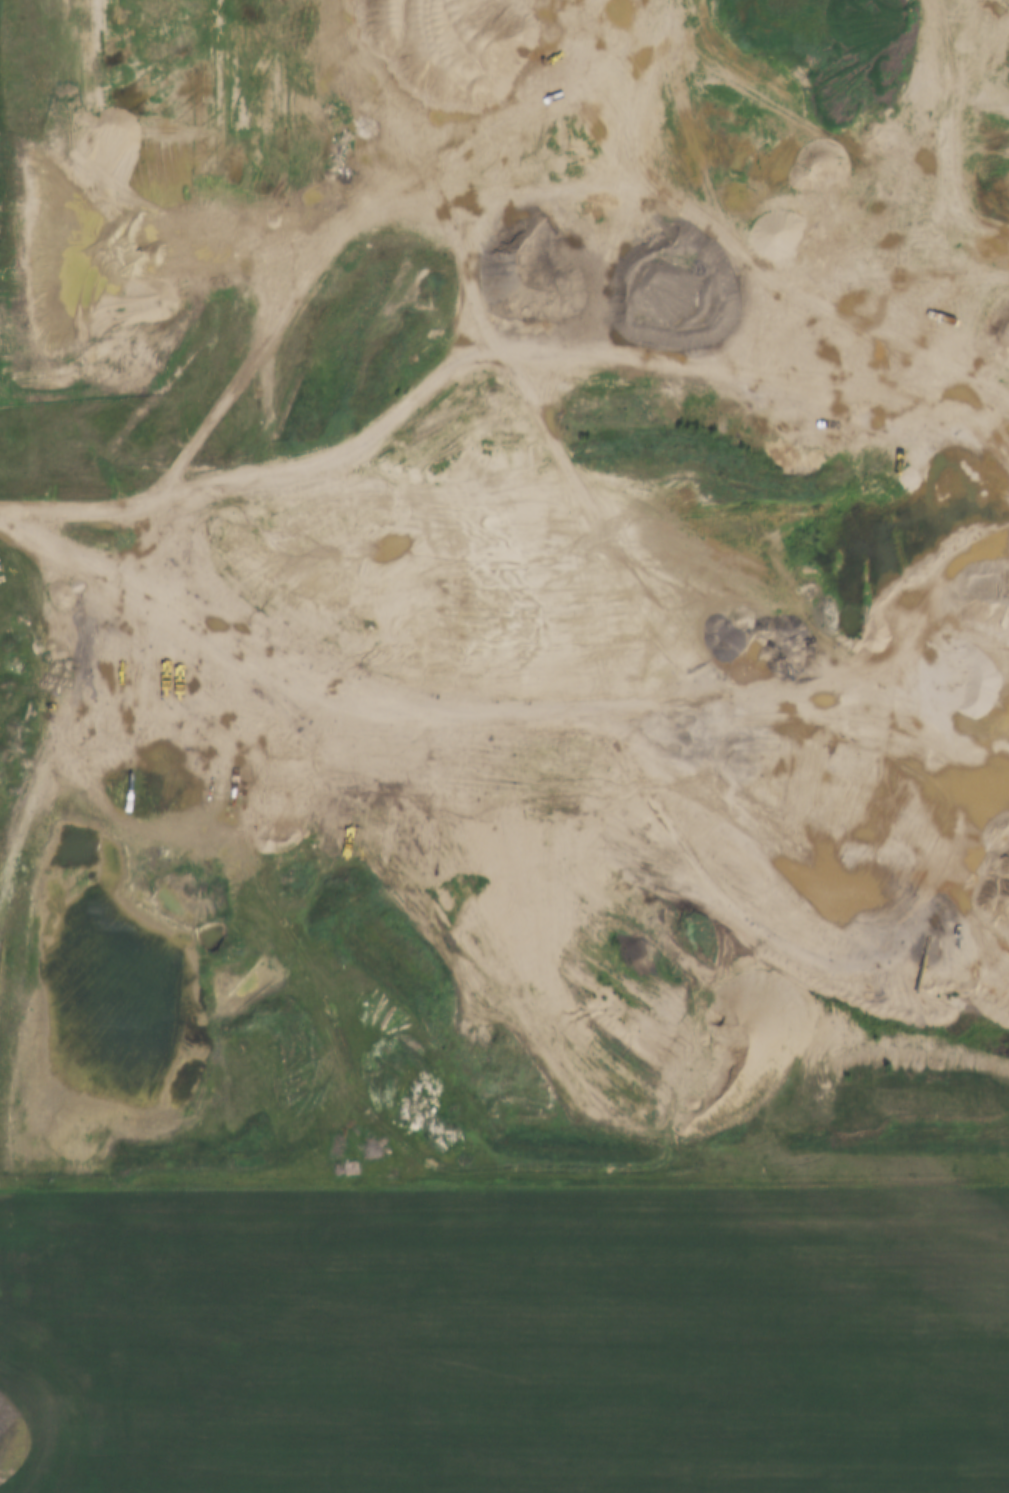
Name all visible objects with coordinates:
quarry: (655, 577)

